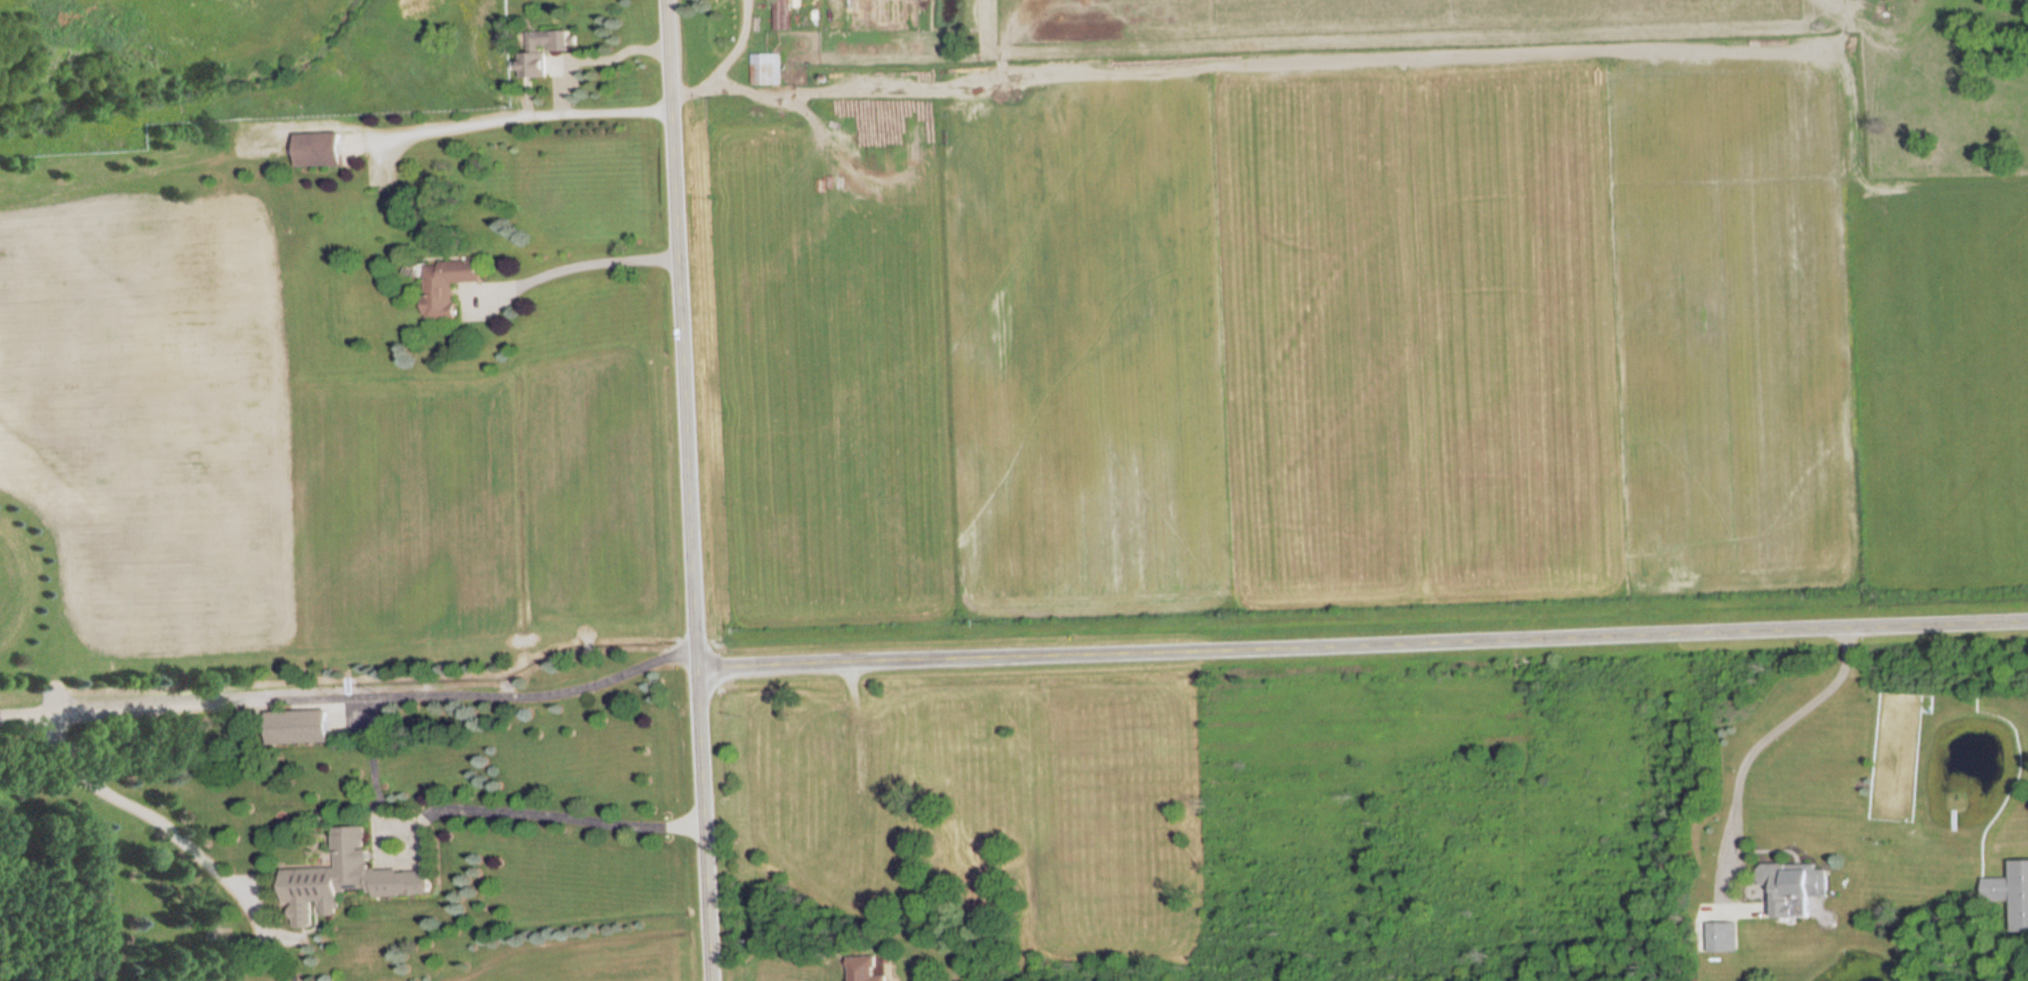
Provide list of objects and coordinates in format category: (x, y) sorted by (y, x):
building: (780, 15)
road: (616, 50)
building: (540, 52)
road: (724, 62)
building: (765, 69)
road: (558, 86)
road: (521, 113)
building: (320, 150)
road: (573, 265)
building: (445, 286)
road: (688, 490)
road: (1362, 645)
road: (350, 692)
building: (297, 727)
road: (1758, 736)
road: (543, 815)
road: (156, 818)
building: (348, 875)
building: (1797, 889)
building: (2011, 894)
building: (1722, 937)
building: (866, 969)

